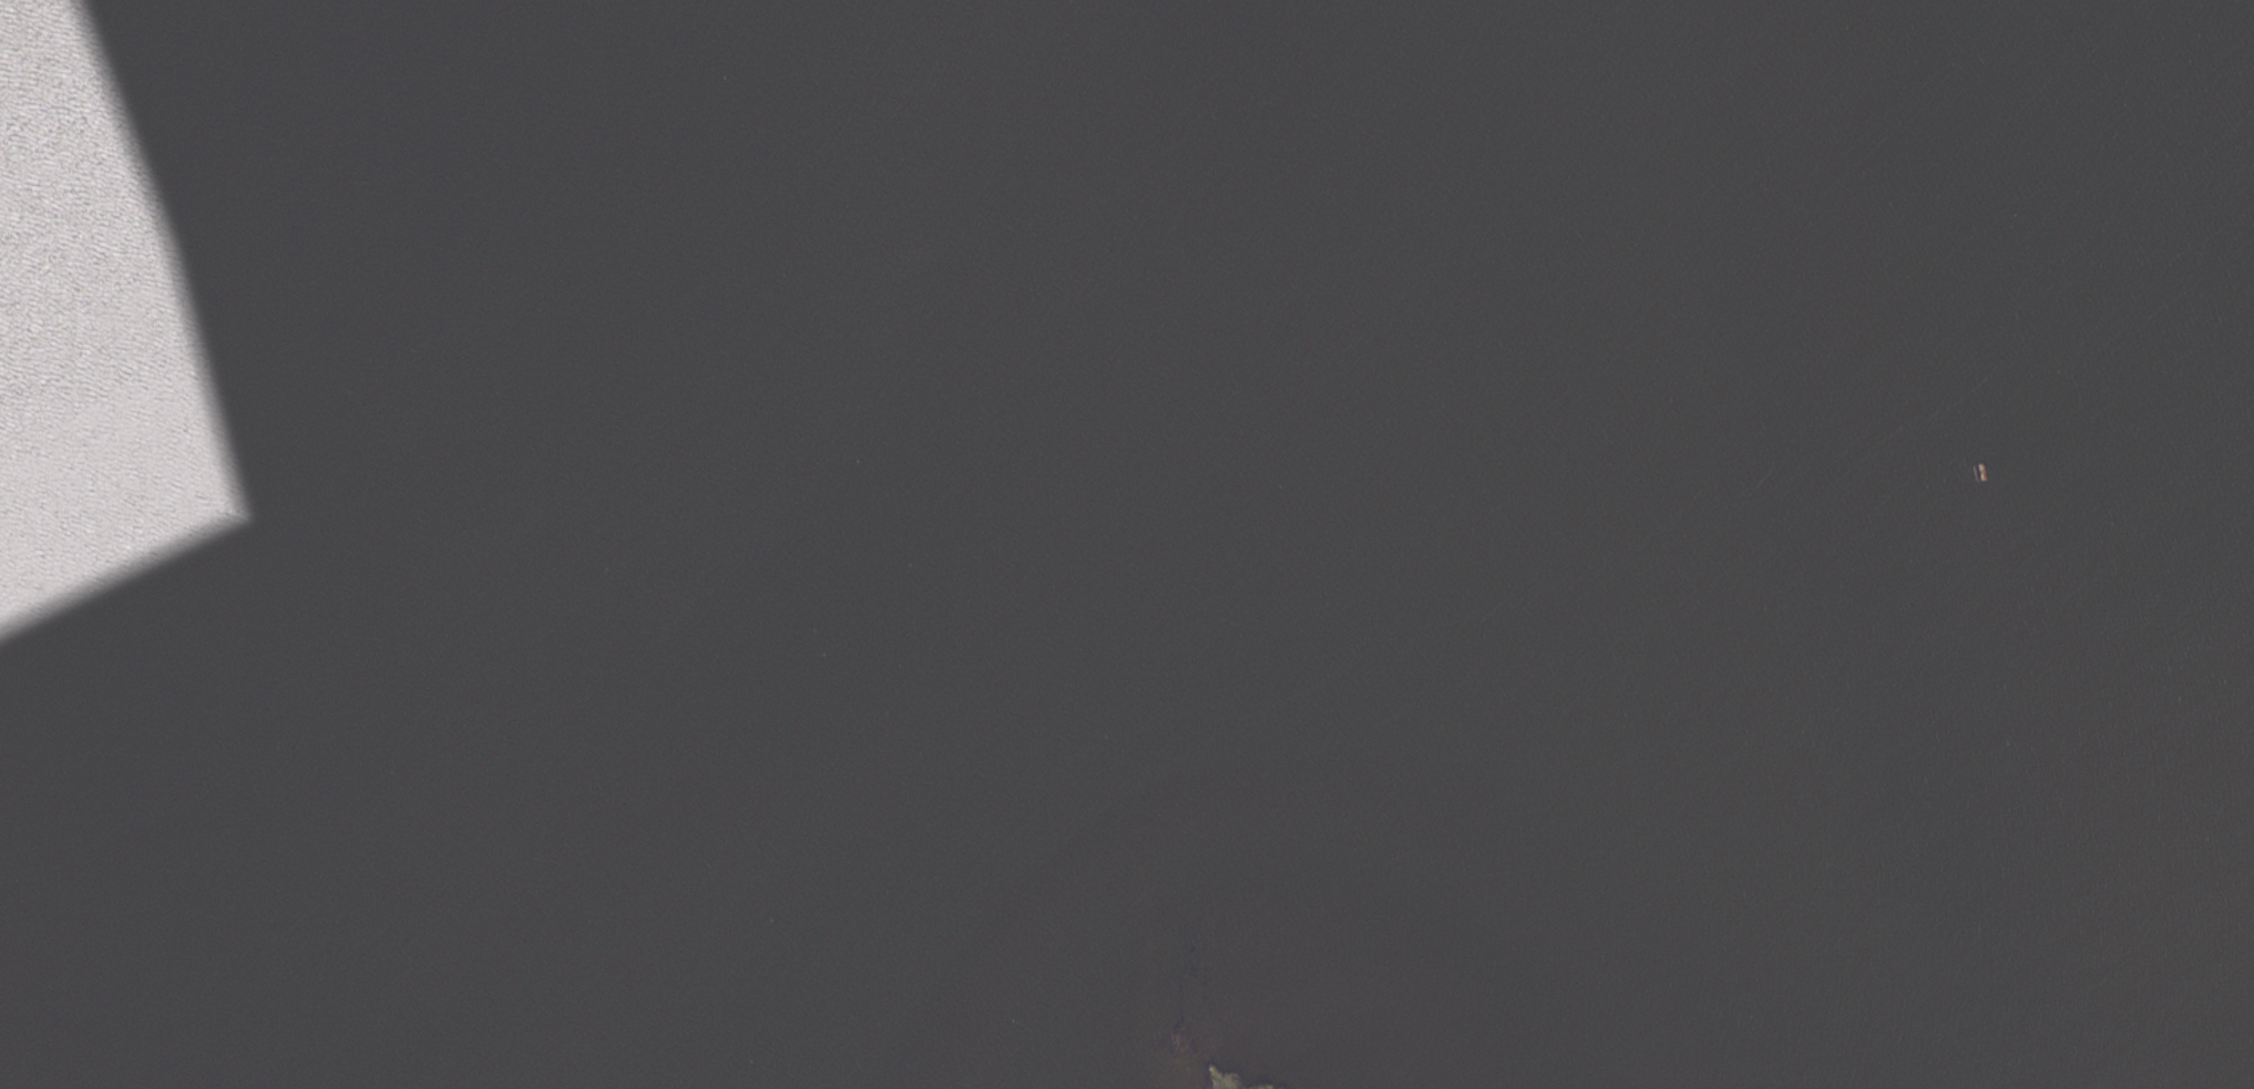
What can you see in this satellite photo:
river: (1991, 544)

